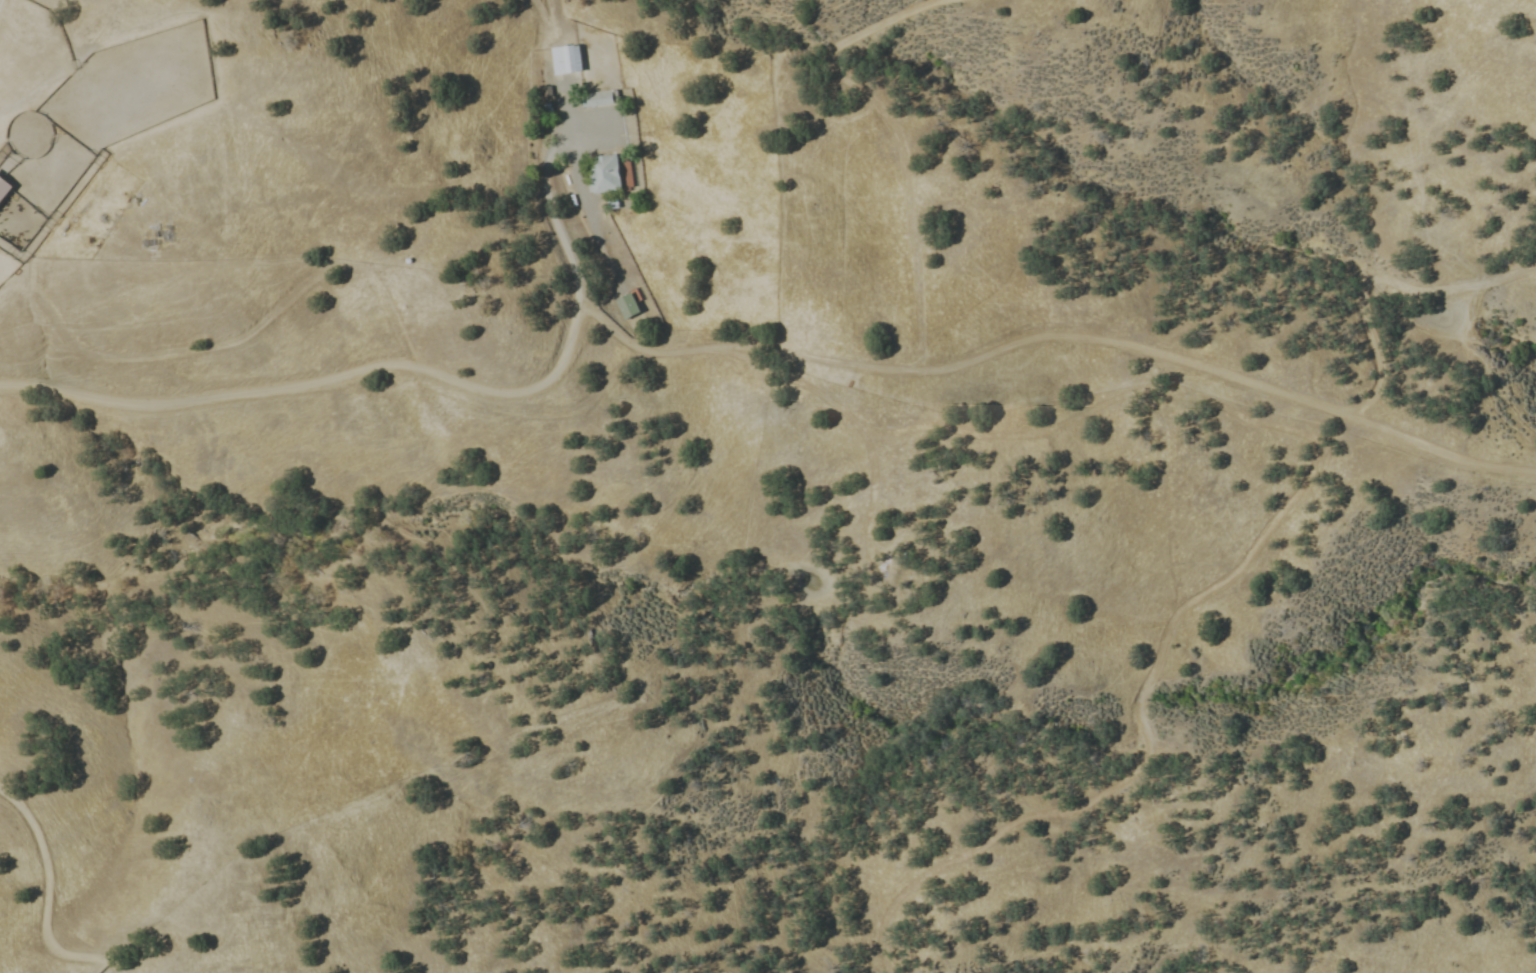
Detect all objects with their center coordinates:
building: (569, 58)
building: (599, 98)
building: (611, 170)
building: (629, 173)
building: (5, 187)
road: (1465, 282)
building: (627, 304)
road: (1055, 337)
road: (1374, 343)
road: (401, 362)
road: (848, 419)
road: (1244, 559)
road: (42, 901)

